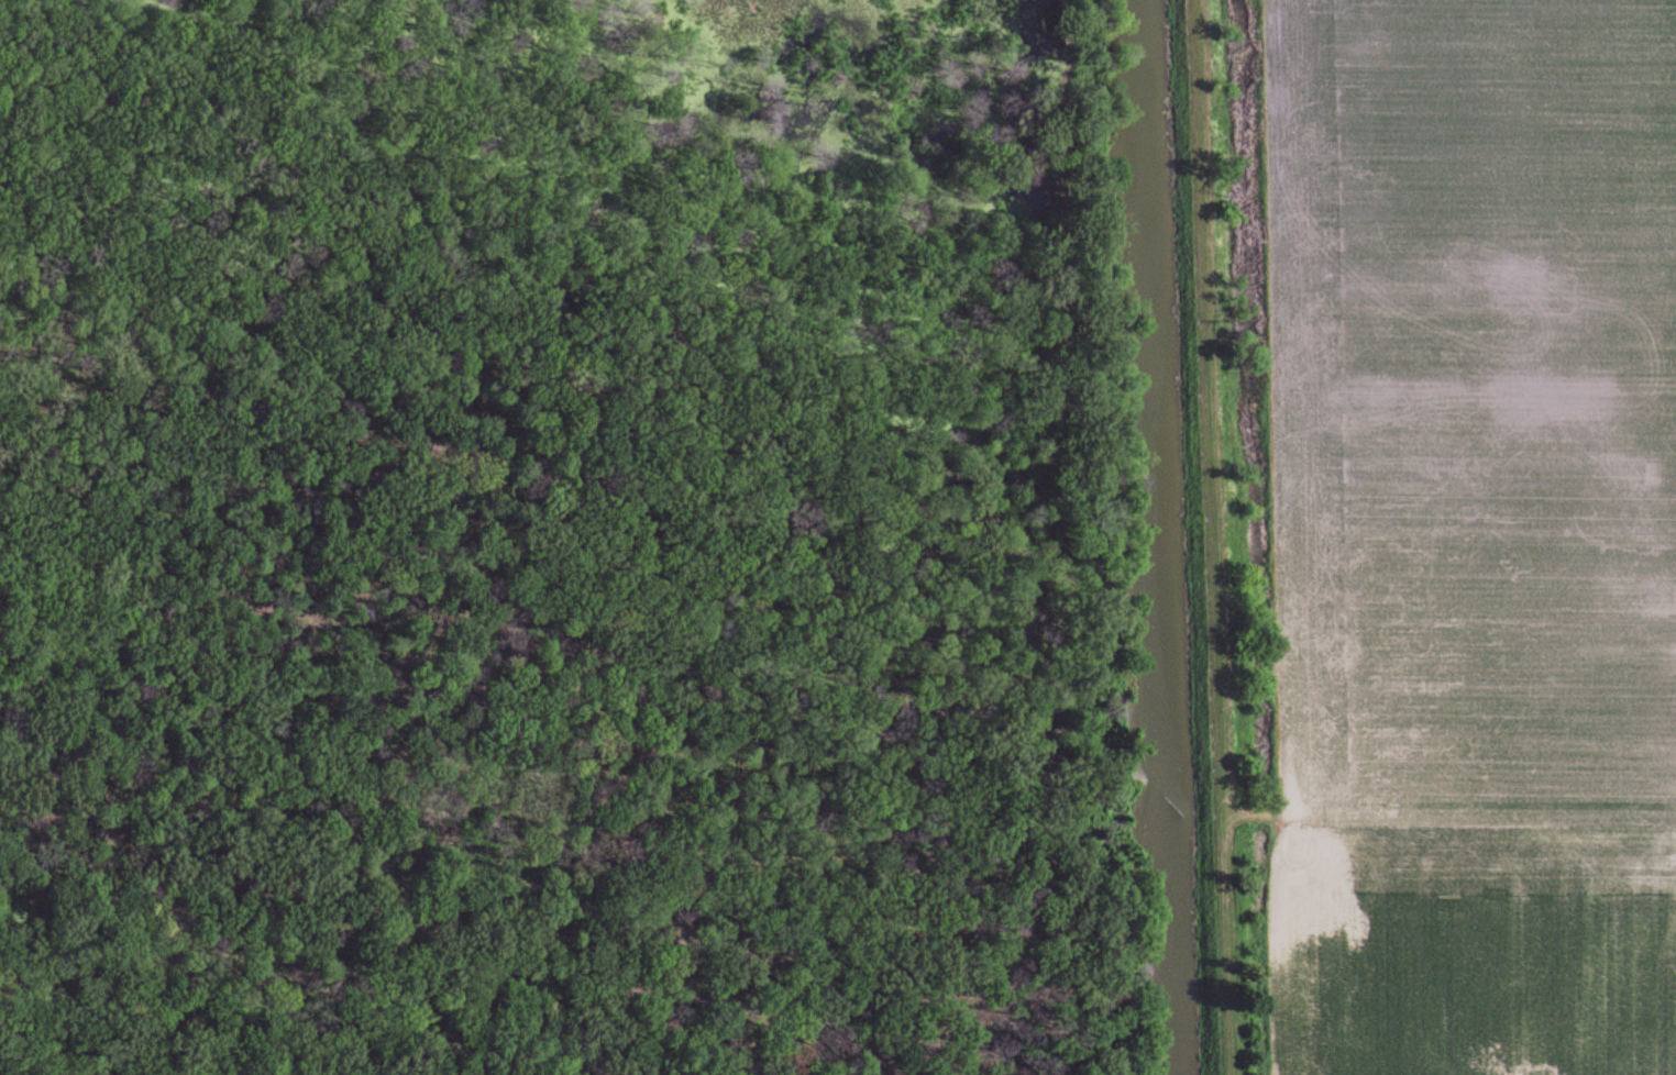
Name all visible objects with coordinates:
crop: (1473, 534)

